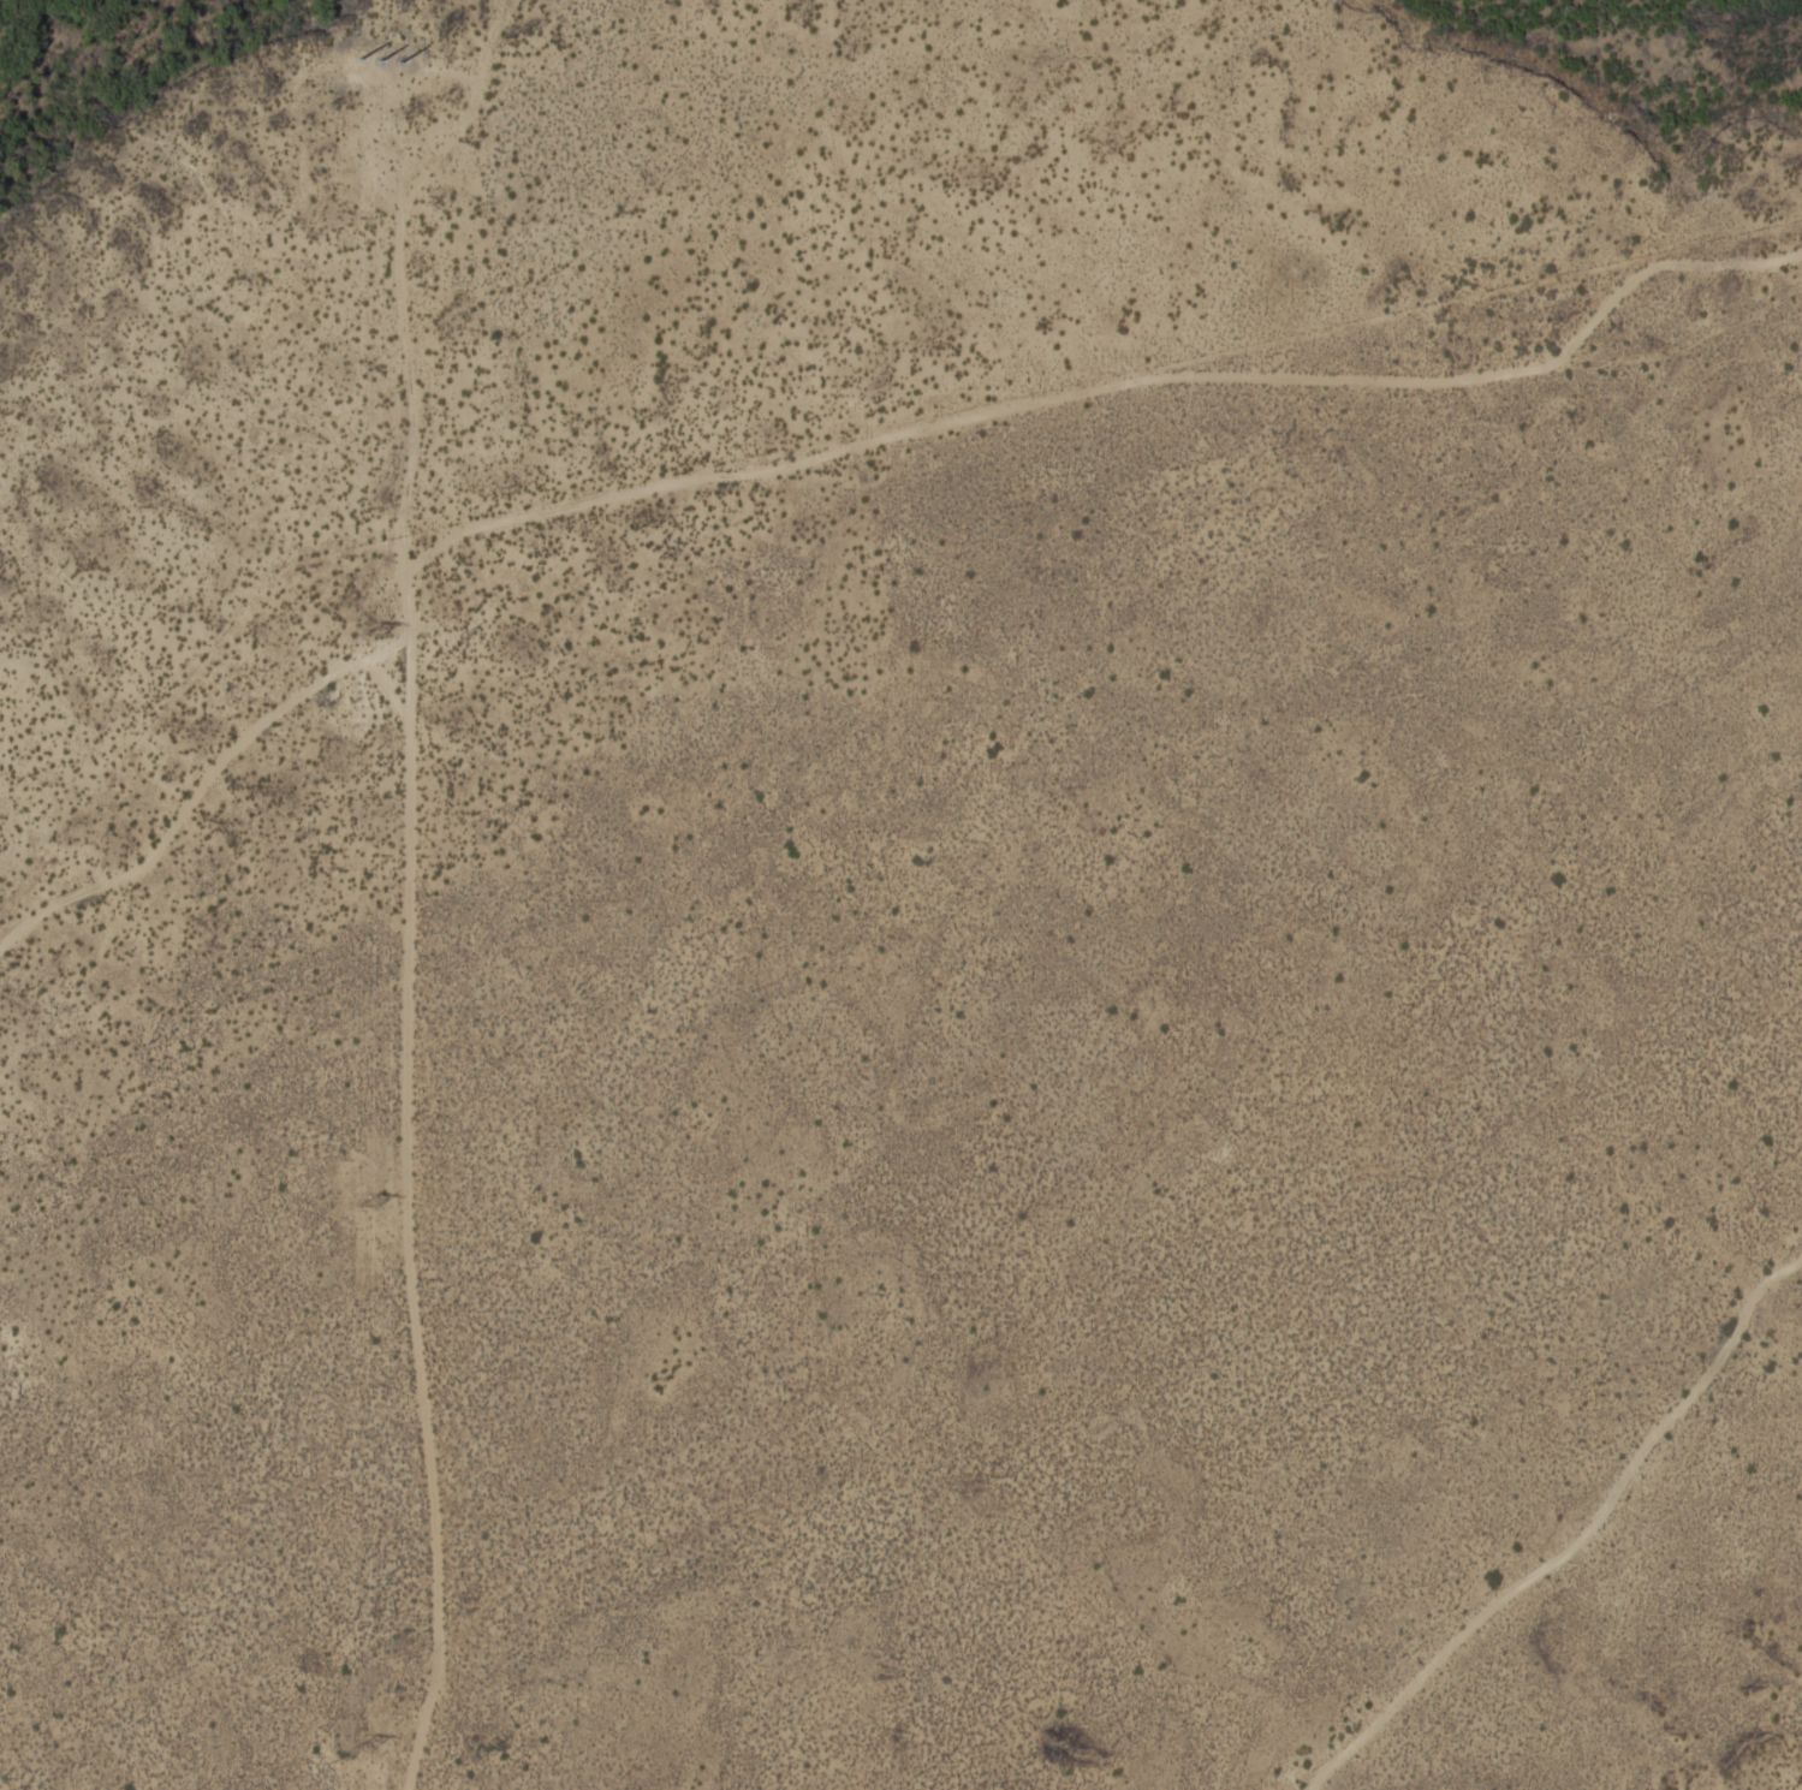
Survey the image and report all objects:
power tower: (365, 55)
power tower: (386, 638)
power tower: (386, 1207)
road: (1562, 1596)
power tower: (380, 1750)

